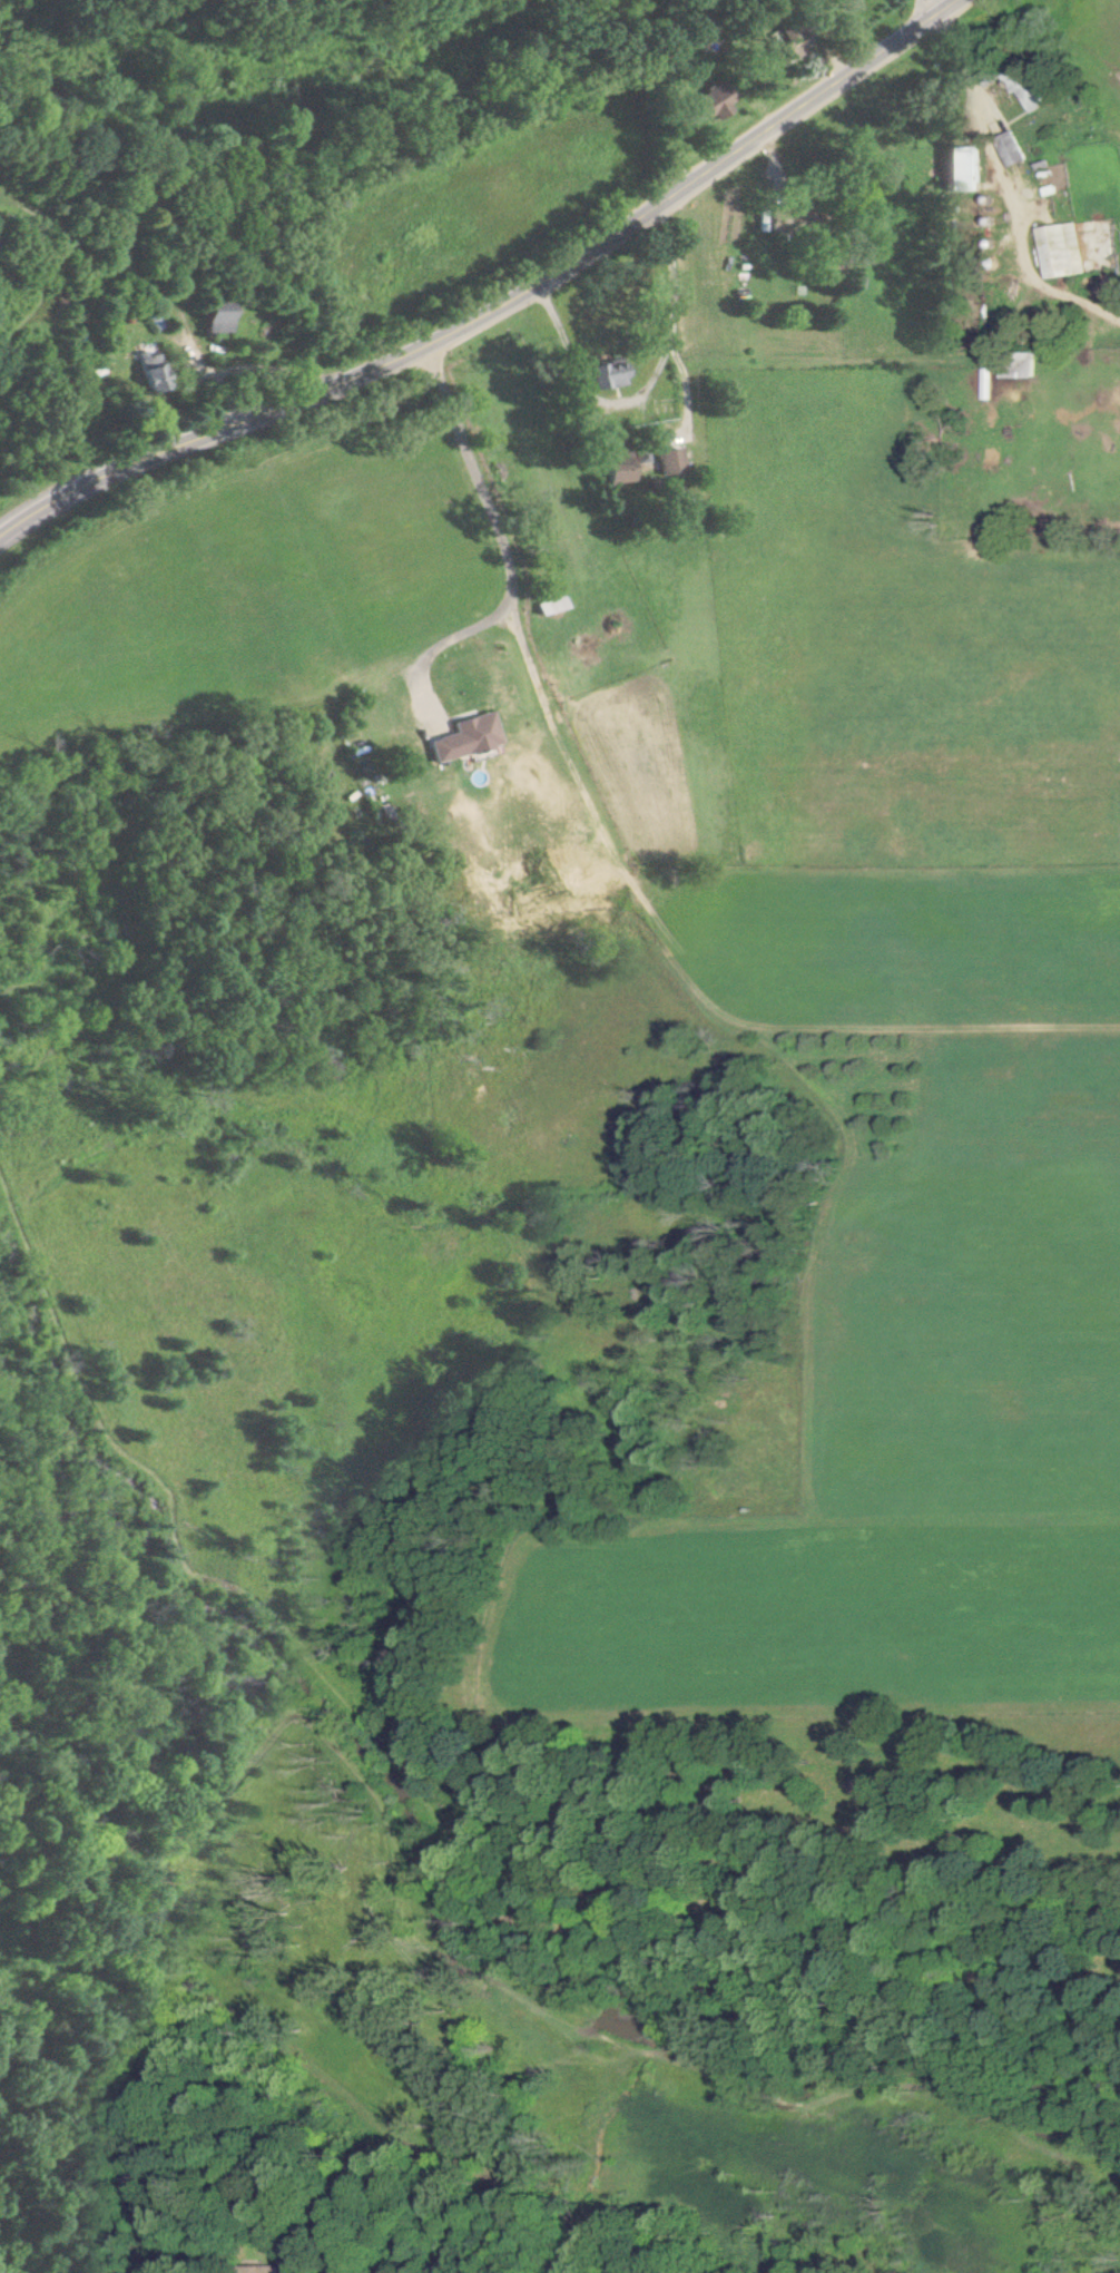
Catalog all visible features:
road: (918, 17)
building: (1016, 77)
building: (716, 102)
building: (1010, 149)
building: (963, 169)
building: (1061, 251)
road: (505, 313)
road: (242, 366)
building: (150, 372)
building: (608, 374)
road: (648, 380)
building: (671, 462)
building: (619, 467)
road: (504, 546)
building: (466, 737)

